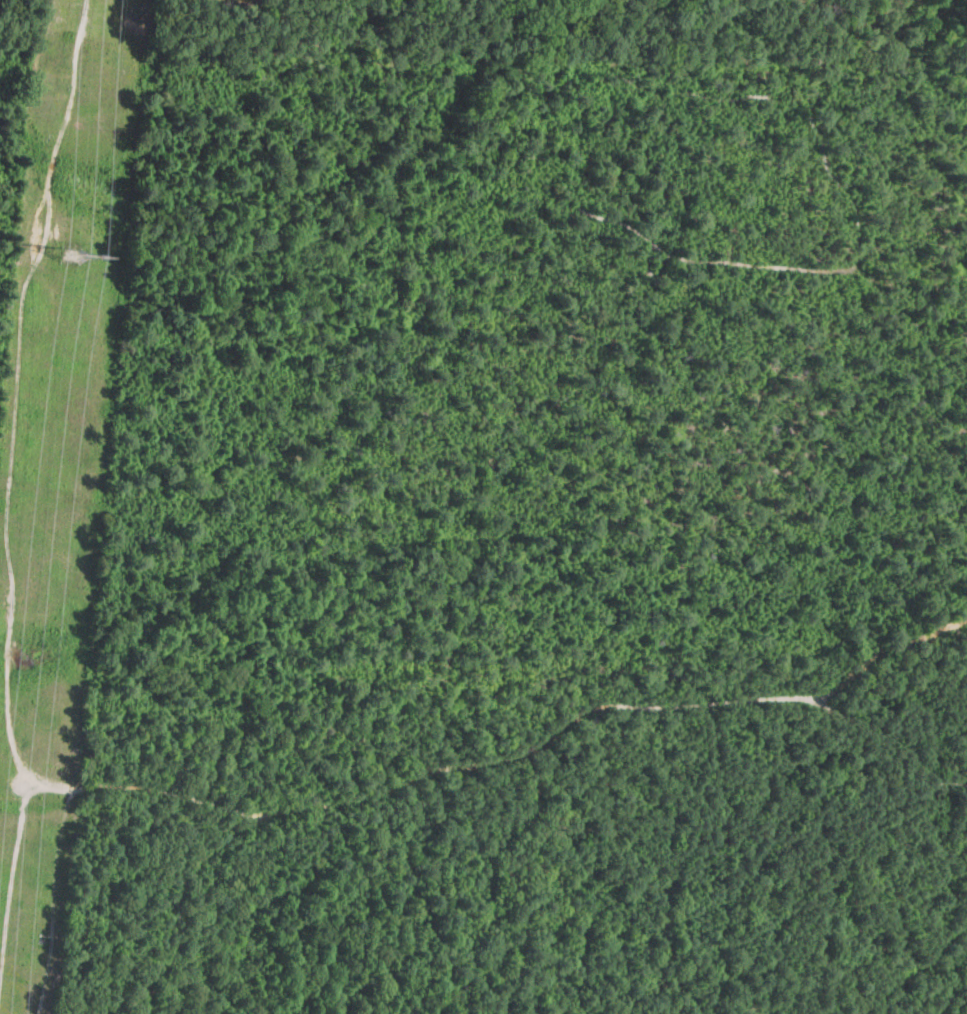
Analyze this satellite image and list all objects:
power tower: (70, 252)

